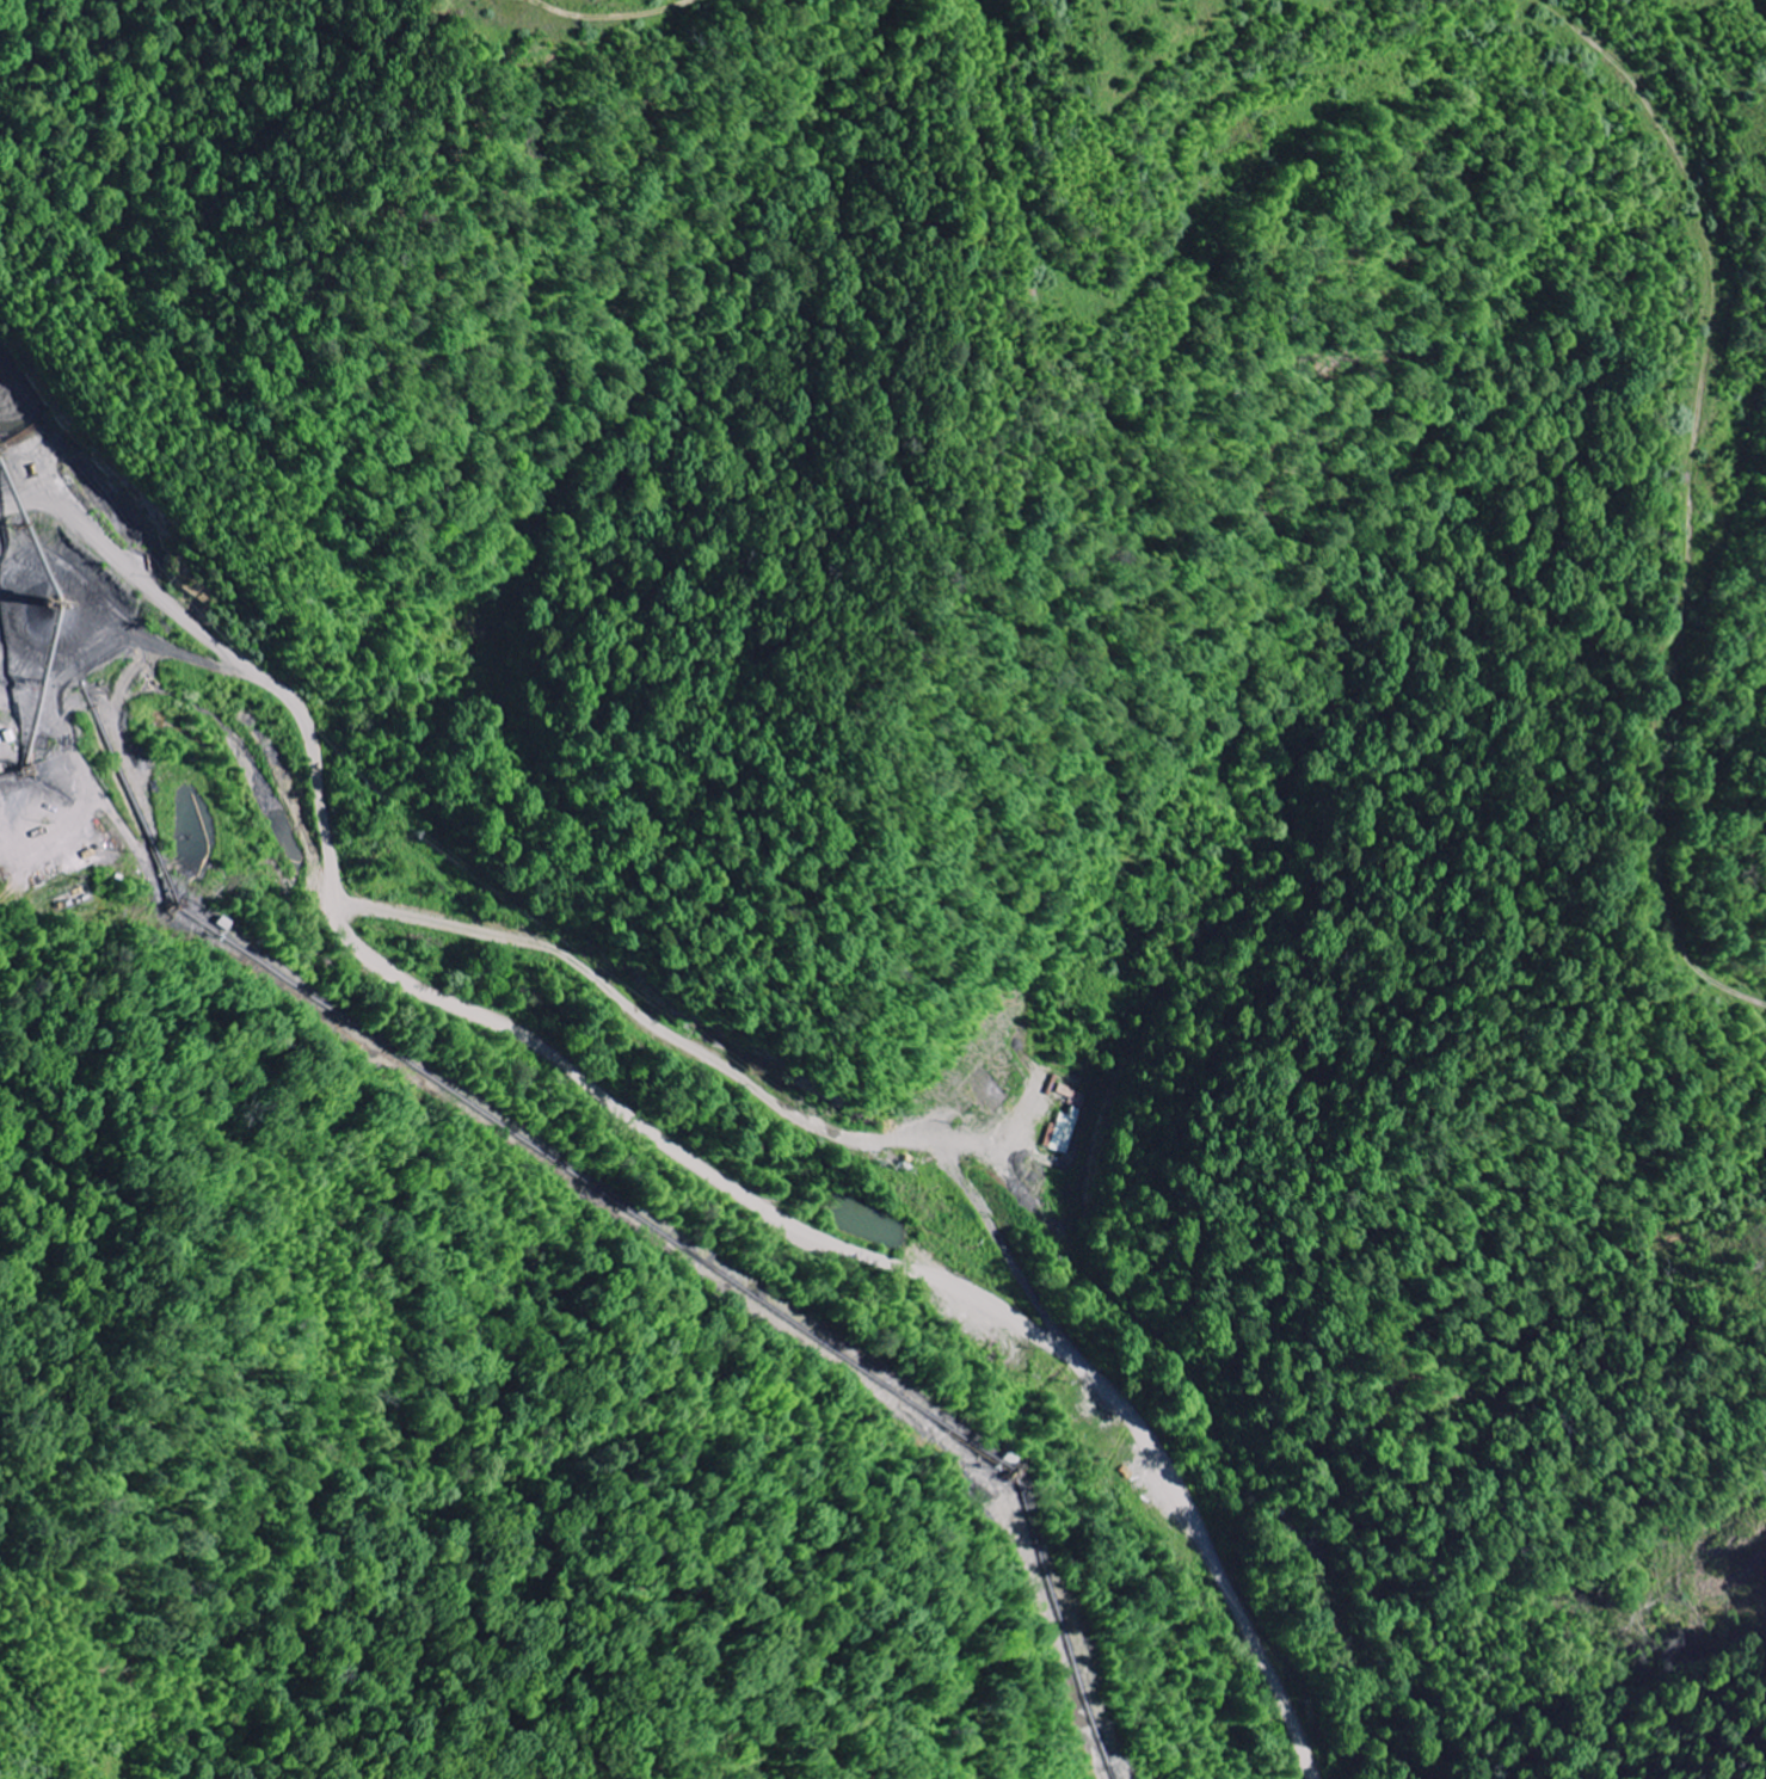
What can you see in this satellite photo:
road: (688, 1061)
building: (1065, 1121)
road: (991, 1389)
road: (913, 1532)

